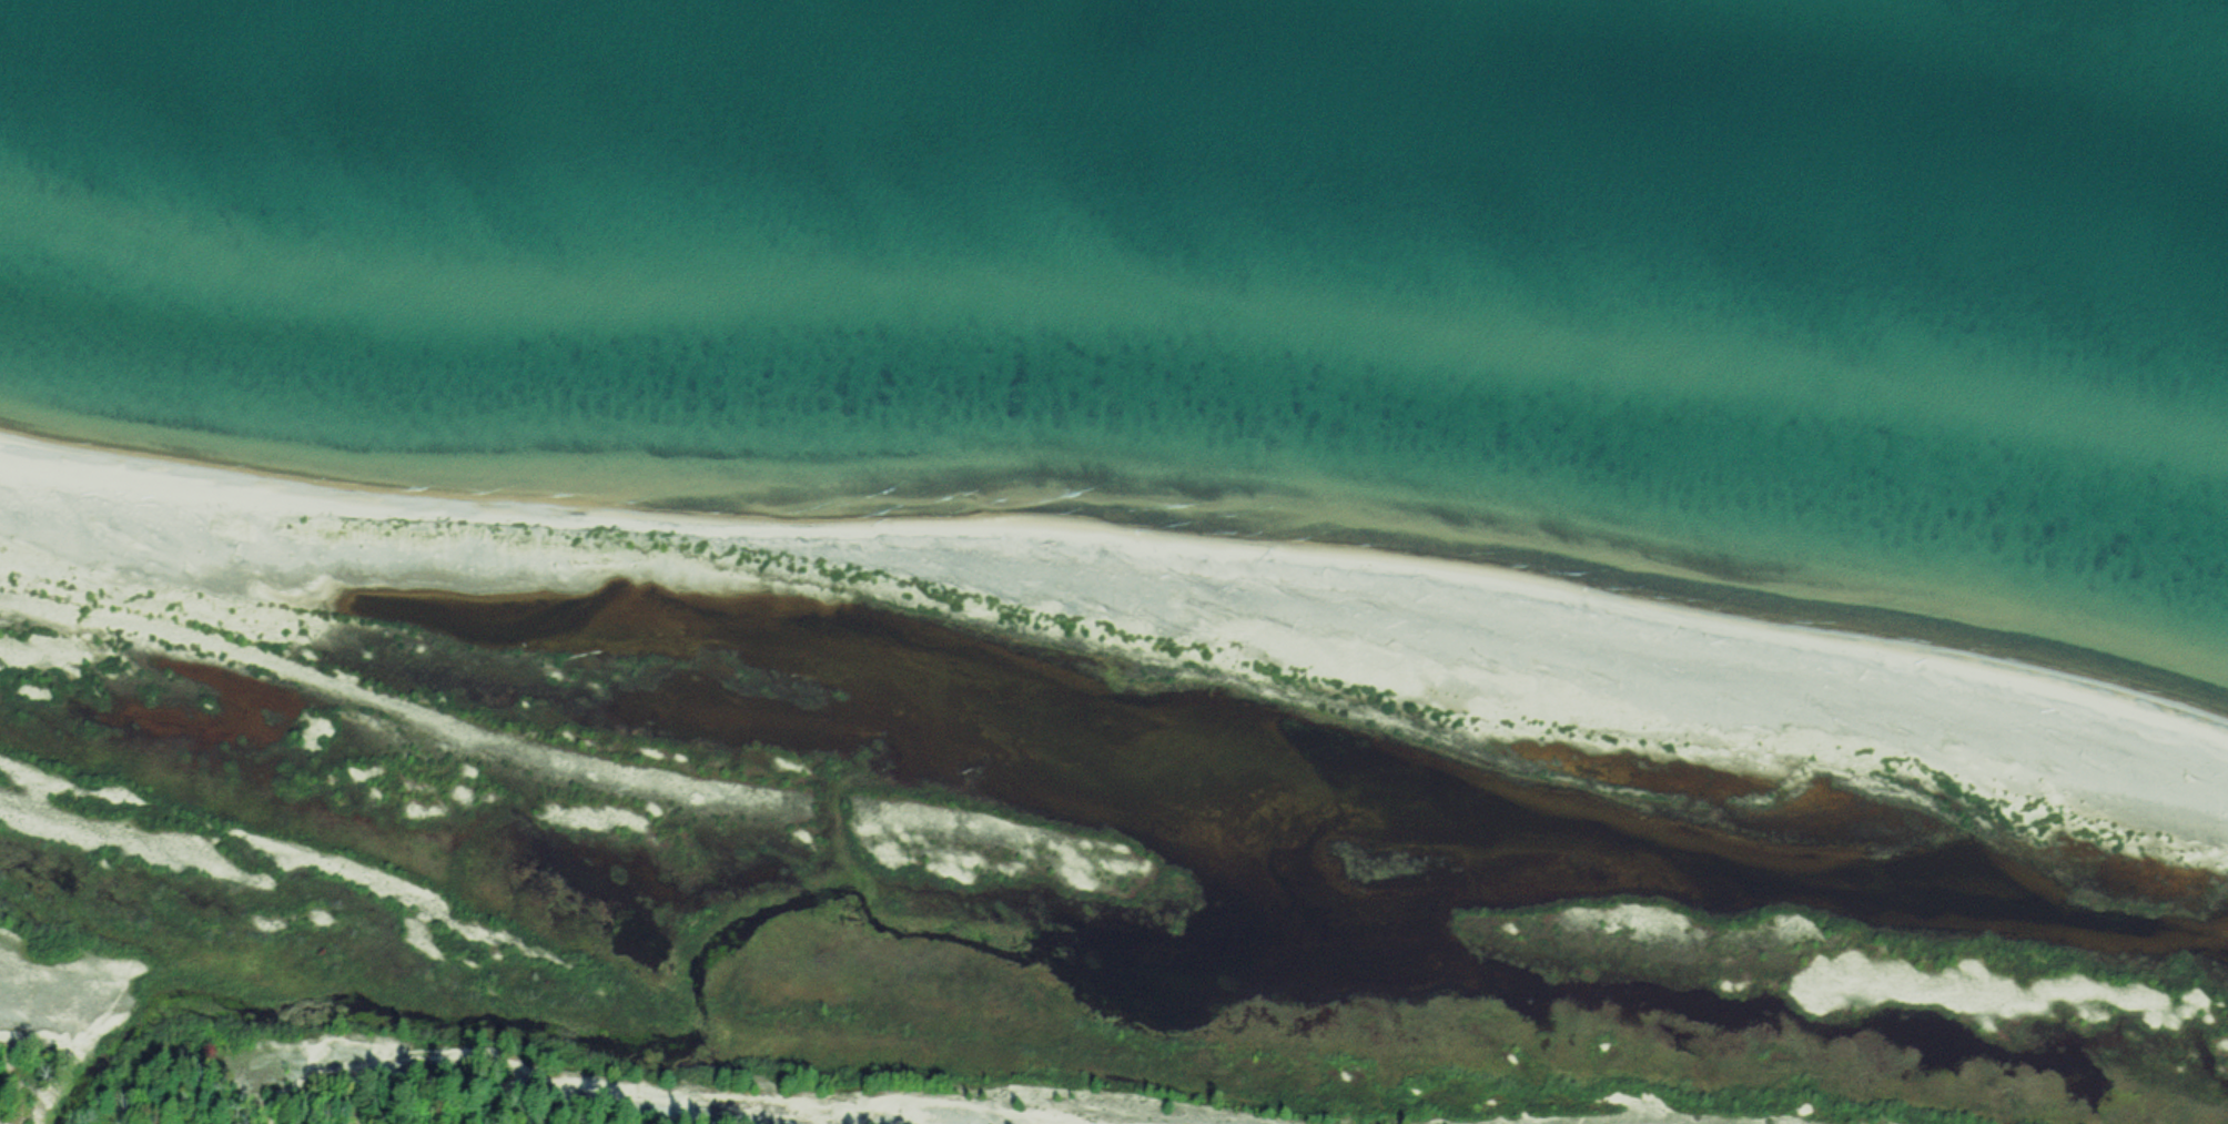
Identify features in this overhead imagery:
road: (78, 1042)
road: (652, 1091)

